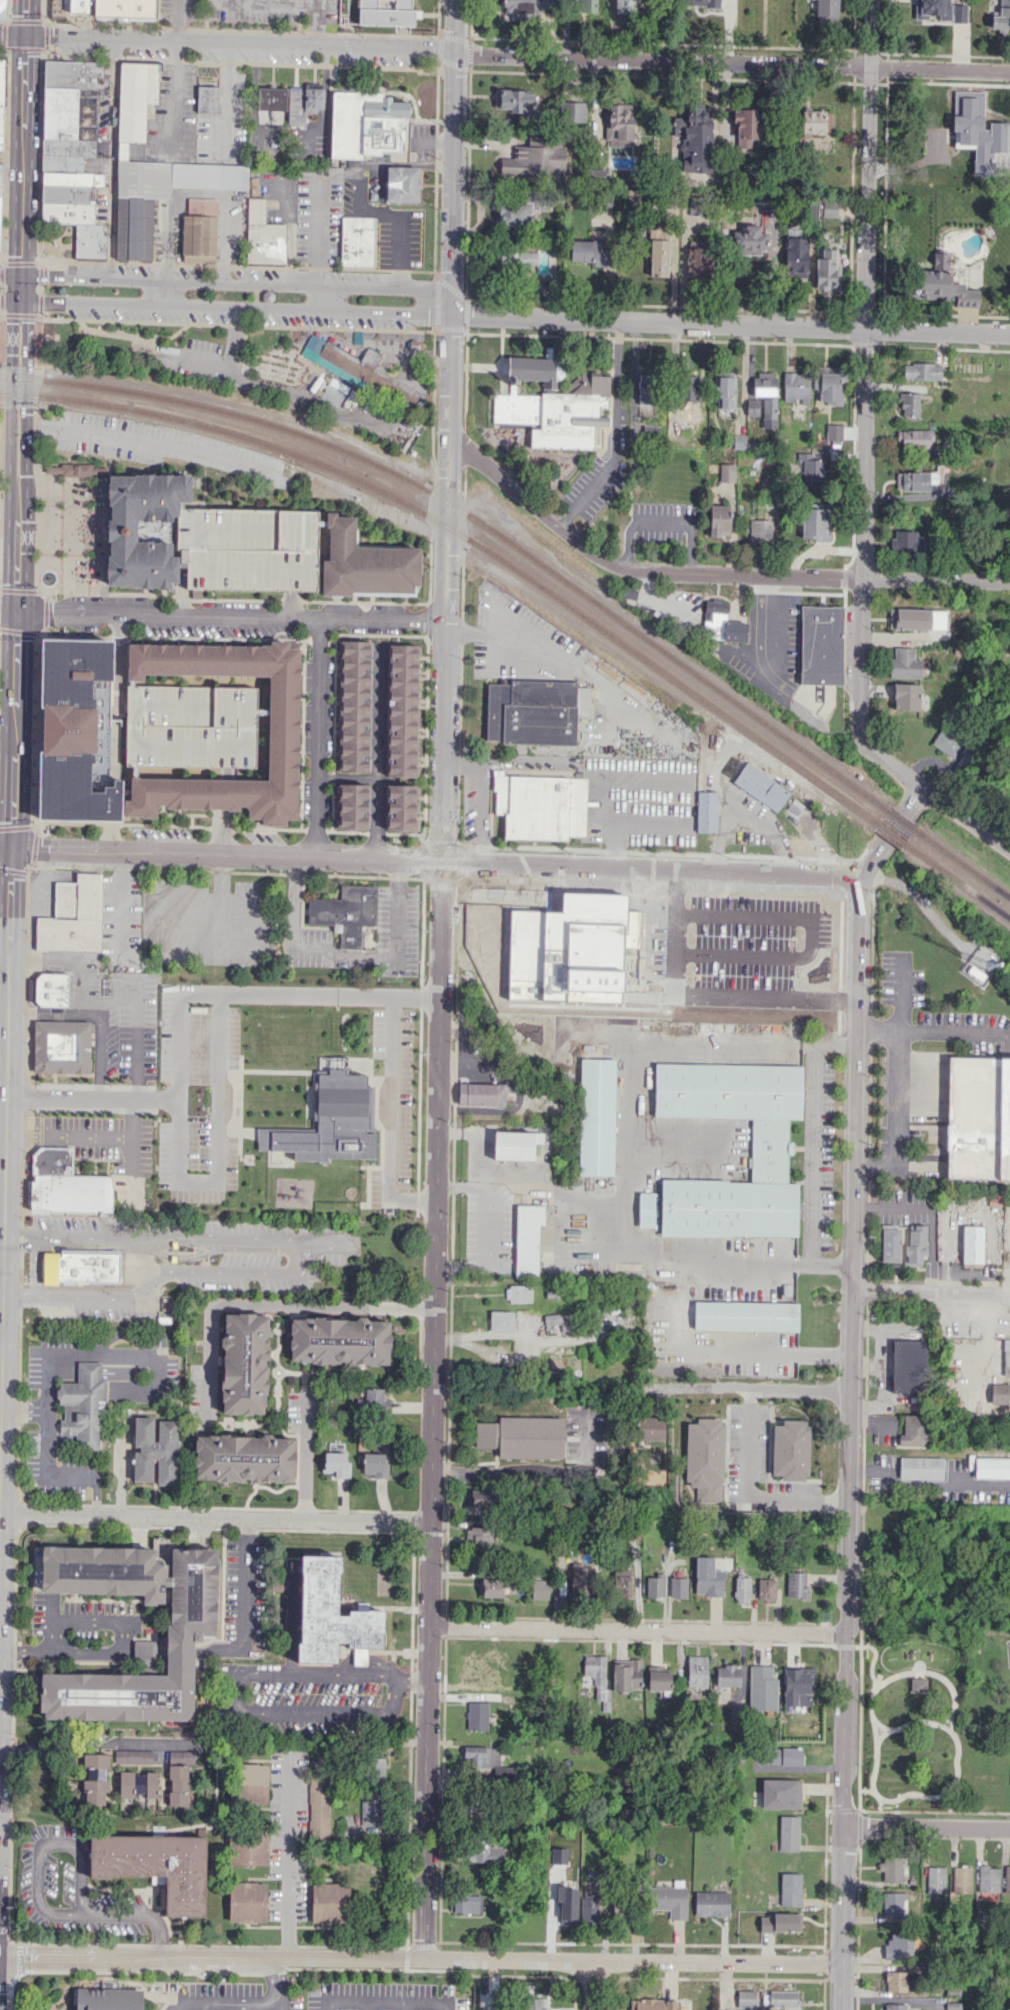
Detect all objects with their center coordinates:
building: (700, 2)
building: (79, 6)
building: (585, 6)
building: (528, 7)
building: (126, 8)
building: (626, 8)
building: (2, 9)
parking lot: (254, 10)
building: (826, 10)
building: (939, 10)
road: (8, 12)
building: (389, 13)
building: (1000, 18)
road: (177, 21)
road: (3, 22)
road: (315, 24)
road: (8, 34)
road: (12, 36)
traffic signals: (25, 37)
road: (8, 48)
road: (25, 48)
road: (3, 55)
road: (517, 55)
road: (340, 65)
building: (73, 73)
building: (1, 79)
road: (171, 96)
building: (313, 96)
building: (207, 98)
road: (224, 98)
building: (271, 98)
building: (133, 100)
building: (514, 101)
building: (295, 107)
building: (573, 111)
building: (69, 114)
parking lot: (169, 117)
building: (1, 119)
building: (816, 121)
parking lot: (225, 122)
building: (966, 123)
building: (365, 124)
building: (620, 125)
building: (746, 127)
road: (22, 137)
building: (1, 141)
parking lot: (423, 141)
building: (695, 145)
building: (69, 148)
road: (5, 152)
road: (40, 153)
road: (454, 155)
road: (111, 159)
building: (534, 162)
building: (63, 163)
road: (870, 164)
building: (1, 172)
building: (68, 178)
building: (403, 183)
building: (1, 188)
road: (199, 191)
building: (65, 194)
building: (0, 203)
building: (696, 205)
building: (67, 213)
building: (515, 213)
building: (134, 228)
building: (201, 230)
building: (264, 236)
parking lot: (398, 236)
building: (90, 240)
building: (749, 240)
road: (56, 241)
building: (358, 241)
park: (55, 242)
road: (58, 243)
flagpole: (42, 244)
building: (587, 252)
building: (658, 253)
building: (795, 254)
road: (1, 255)
building: (698, 258)
building: (516, 259)
road: (20, 261)
road: (235, 265)
building: (827, 268)
road: (9, 276)
traffic signals: (20, 276)
road: (240, 282)
building: (943, 284)
road: (4, 286)
road: (19, 289)
road: (163, 293)
building: (268, 296)
road: (326, 297)
road: (438, 299)
road: (9, 301)
traffic signals: (19, 302)
road: (36, 303)
road: (235, 306)
road: (1, 316)
road: (236, 323)
road: (730, 323)
road: (134, 334)
road: (176, 334)
road: (236, 335)
road: (2, 340)
road: (19, 340)
road: (152, 345)
road: (2, 362)
railway: (1, 369)
building: (922, 371)
building: (368, 375)
road: (2, 377)
railway: (9, 377)
building: (829, 384)
building: (796, 386)
road: (274, 388)
parking lot: (284, 389)
building: (688, 390)
building: (724, 390)
building: (644, 392)
railway: (9, 393)
building: (766, 396)
road: (18, 402)
building: (552, 402)
building: (909, 404)
road: (450, 407)
building: (752, 407)
railway: (241, 414)
building: (833, 431)
road: (615, 433)
building: (915, 438)
road: (147, 443)
parking lot: (164, 446)
road: (35, 461)
building: (810, 467)
building: (76, 469)
building: (726, 472)
building: (913, 480)
road: (536, 509)
road: (666, 517)
building: (719, 520)
building: (815, 524)
road: (70, 525)
building: (121, 530)
building: (907, 541)
road: (633, 543)
railway: (477, 544)
road: (695, 546)
building: (249, 548)
parking lot: (249, 548)
road: (0, 556)
building: (367, 565)
flagpole: (60, 570)
fountain: (48, 577)
road: (821, 577)
flagpole: (62, 578)
flagpole: (60, 585)
road: (21, 598)
road: (369, 601)
traffic signals: (16, 612)
road: (223, 615)
building: (908, 618)
road: (773, 621)
building: (721, 624)
road: (35, 629)
road: (515, 640)
building: (821, 645)
railway: (668, 655)
road: (119, 659)
building: (904, 663)
building: (905, 696)
building: (355, 706)
road: (7, 710)
building: (403, 710)
building: (536, 711)
building: (190, 726)
parking lot: (190, 726)
building: (283, 728)
road: (36, 729)
building: (71, 729)
road: (302, 736)
road: (317, 737)
building: (946, 742)
road: (378, 754)
building: (760, 786)
building: (541, 804)
building: (353, 806)
building: (401, 809)
building: (706, 811)
railway: (900, 819)
road: (965, 819)
railway: (889, 832)
road: (30, 845)
road: (5, 847)
traffic signals: (11, 847)
road: (434, 861)
railway: (962, 863)
railway: (956, 880)
building: (343, 909)
building: (73, 916)
road: (9, 919)
road: (4, 953)
road: (348, 955)
building: (51, 989)
road: (259, 995)
road: (708, 996)
road: (103, 1000)
parking lot: (108, 1011)
building: (541, 1013)
road: (3, 1015)
road: (856, 1028)
road: (929, 1031)
road: (29, 1034)
building: (61, 1046)
road: (100, 1049)
road: (631, 1052)
road: (71, 1073)
road: (902, 1082)
parking lot: (197, 1093)
building: (481, 1093)
road: (91, 1096)
parking lot: (392, 1102)
building: (596, 1116)
road: (132, 1118)
building: (979, 1118)
building: (329, 1120)
road: (388, 1120)
road: (461, 1130)
road: (816, 1133)
road: (68, 1136)
building: (516, 1143)
road: (216, 1144)
road: (2, 1146)
building: (772, 1147)
parking lot: (107, 1149)
building: (52, 1160)
road: (132, 1168)
building: (165, 1170)
building: (229, 1178)
building: (71, 1193)
building: (184, 1194)
building: (209, 1195)
road: (574, 1206)
road: (492, 1229)
road: (436, 1230)
building: (527, 1239)
building: (890, 1244)
building: (915, 1244)
building: (971, 1245)
road: (306, 1256)
road: (834, 1264)
building: (80, 1266)
road: (931, 1292)
building: (519, 1293)
road: (309, 1305)
road: (418, 1307)
building: (746, 1314)
building: (560, 1320)
building: (501, 1321)
road: (679, 1323)
road: (0, 1340)
building: (339, 1340)
road: (52, 1357)
building: (1006, 1357)
building: (245, 1362)
building: (908, 1365)
road: (753, 1389)
building: (1000, 1393)
building: (377, 1400)
building: (83, 1405)
building: (650, 1429)
building: (914, 1430)
building: (522, 1436)
building: (155, 1450)
building: (790, 1450)
building: (244, 1458)
road: (305, 1458)
building: (705, 1458)
building: (336, 1459)
building: (375, 1465)
building: (991, 1467)
building: (920, 1468)
road: (532, 1469)
road: (47, 1471)
road: (926, 1484)
road: (747, 1493)
road: (96, 1497)
building: (479, 1498)
road: (214, 1518)
building: (478, 1537)
building: (583, 1577)
building: (707, 1577)
building: (622, 1584)
building: (796, 1584)
building: (655, 1585)
road: (245, 1586)
building: (491, 1587)
building: (678, 1587)
building: (540, 1589)
building: (742, 1589)
building: (766, 1589)
building: (329, 1613)
road: (88, 1621)
building: (190, 1629)
road: (637, 1629)
road: (827, 1633)
road: (842, 1646)
road: (849, 1646)
road: (856, 1646)
road: (164, 1652)
road: (221, 1652)
road: (64, 1653)
building: (481, 1665)
road: (911, 1666)
building: (697, 1671)
building: (626, 1675)
building: (727, 1675)
road: (413, 1677)
building: (659, 1678)
building: (598, 1680)
building: (917, 1684)
building: (797, 1686)
building: (762, 1688)
road: (227, 1692)
road: (952, 1694)
road: (398, 1695)
building: (477, 1716)
road: (946, 1727)
road: (875, 1729)
park: (922, 1731)
road: (94, 1742)
building: (132, 1756)
building: (782, 1756)
building: (481, 1757)
building: (377, 1769)
building: (94, 1778)
building: (249, 1783)
building: (137, 1784)
building: (178, 1785)
road: (865, 1790)
building: (781, 1793)
road: (912, 1794)
road: (950, 1800)
building: (370, 1807)
building: (319, 1808)
road: (927, 1827)
building: (788, 1833)
parking lot: (288, 1835)
road: (38, 1843)
building: (248, 1845)
building: (484, 1852)
road: (290, 1855)
building: (157, 1866)
building: (891, 1869)
building: (936, 1879)
building: (961, 1879)
building: (988, 1879)
building: (1007, 1879)
building: (791, 1889)
road: (843, 1890)
building: (669, 1900)
building: (247, 1901)
building: (327, 1903)
building: (466, 1903)
building: (711, 1903)
building: (892, 1904)
building: (590, 1909)
road: (137, 1914)
building: (563, 1914)
building: (781, 1922)
building: (898, 1946)
road: (420, 1957)
building: (895, 1981)
road: (279, 1983)
road: (592, 1986)
parking lot: (383, 1996)
parking lot: (230, 1997)
building: (110, 1998)
building: (746, 1998)
building: (783, 1998)
road: (365, 2001)
road: (224, 2002)
road: (430, 2003)
building: (533, 2003)
building: (654, 2004)
road: (201, 2006)
road: (242, 2006)
building: (895, 2006)
building: (491, 2007)

